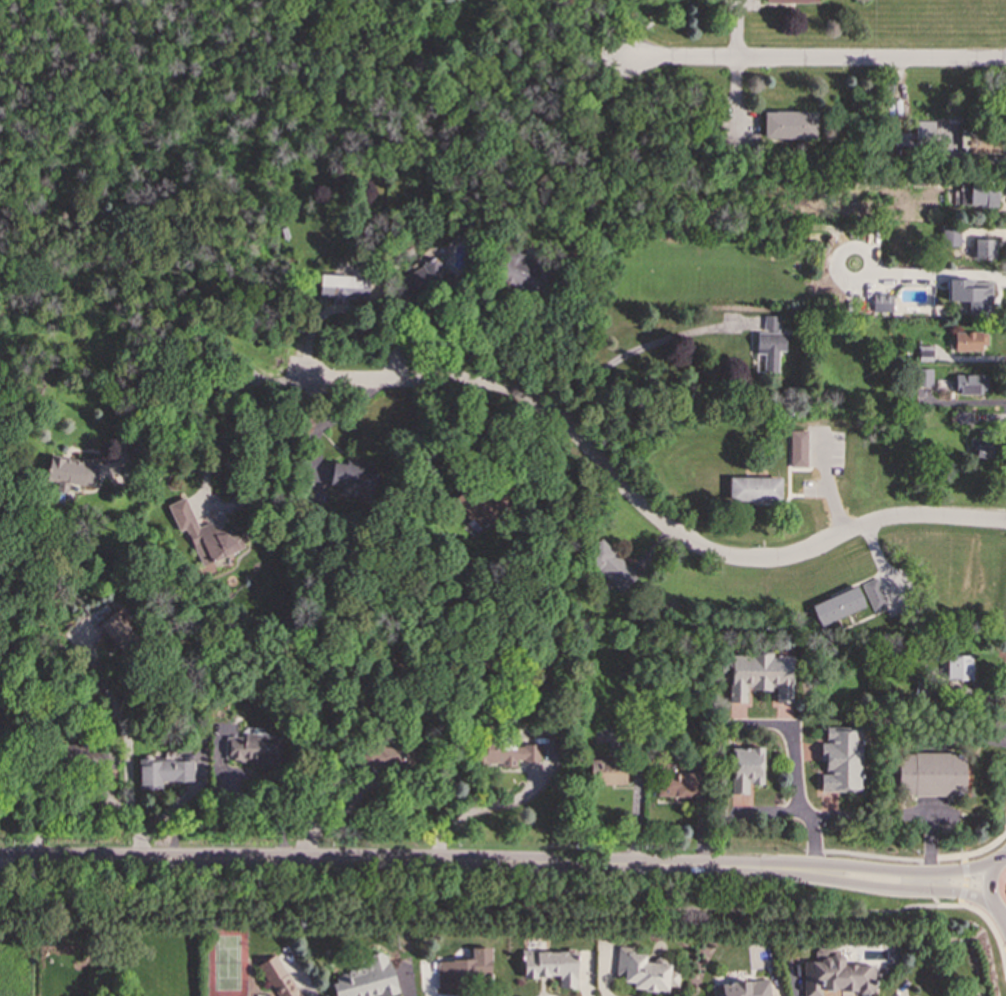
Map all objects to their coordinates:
building: (791, 1)
road: (737, 29)
road: (817, 59)
building: (790, 125)
building: (916, 133)
building: (979, 142)
building: (975, 195)
building: (949, 237)
building: (983, 248)
building: (521, 272)
road: (928, 272)
building: (420, 278)
building: (341, 288)
building: (971, 294)
building: (881, 303)
building: (968, 340)
building: (770, 342)
road: (636, 350)
road: (540, 353)
road: (160, 365)
building: (923, 377)
road: (284, 381)
building: (968, 384)
building: (962, 417)
road: (211, 426)
building: (798, 448)
building: (979, 448)
building: (73, 472)
building: (353, 476)
building: (753, 489)
building: (486, 505)
road: (643, 507)
building: (204, 535)
building: (610, 565)
building: (874, 594)
building: (837, 606)
building: (118, 631)
building: (959, 667)
building: (760, 675)
road: (967, 738)
road: (791, 747)
building: (252, 749)
building: (509, 753)
road: (131, 755)
building: (841, 760)
building: (104, 762)
building: (745, 768)
building: (163, 772)
building: (608, 772)
building: (930, 774)
building: (677, 784)
road: (478, 807)
road: (893, 813)
road: (338, 817)
road: (815, 841)
road: (972, 852)
road: (872, 855)
road: (1005, 855)
road: (25, 859)
road: (25, 863)
road: (410, 863)
road: (791, 866)
road: (903, 871)
road: (963, 880)
road: (882, 885)
road: (988, 885)
road: (928, 897)
road: (470, 905)
road: (1004, 917)
road: (986, 921)
road: (1004, 949)
building: (551, 966)
building: (466, 969)
building: (644, 970)
building: (835, 974)
building: (277, 977)
building: (365, 978)
building: (741, 988)

